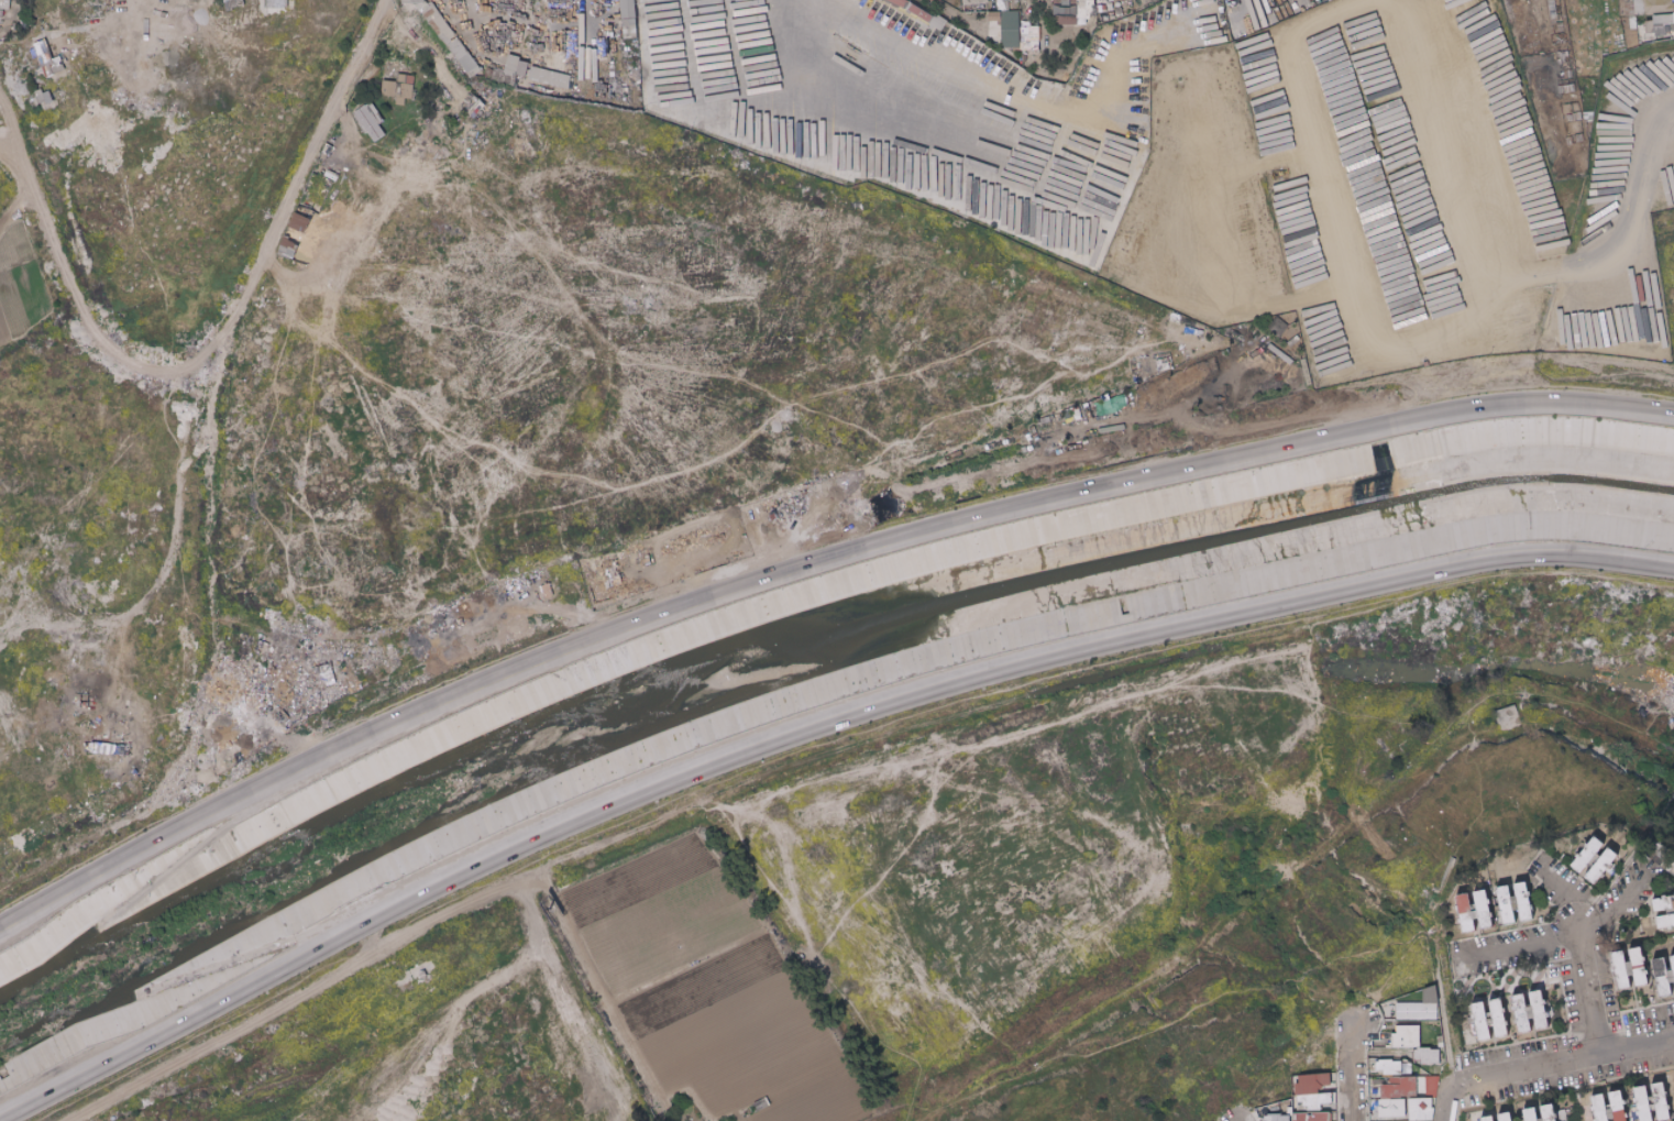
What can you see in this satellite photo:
crop: (1664, 260)
crop: (654, 916)
crop: (741, 1038)

